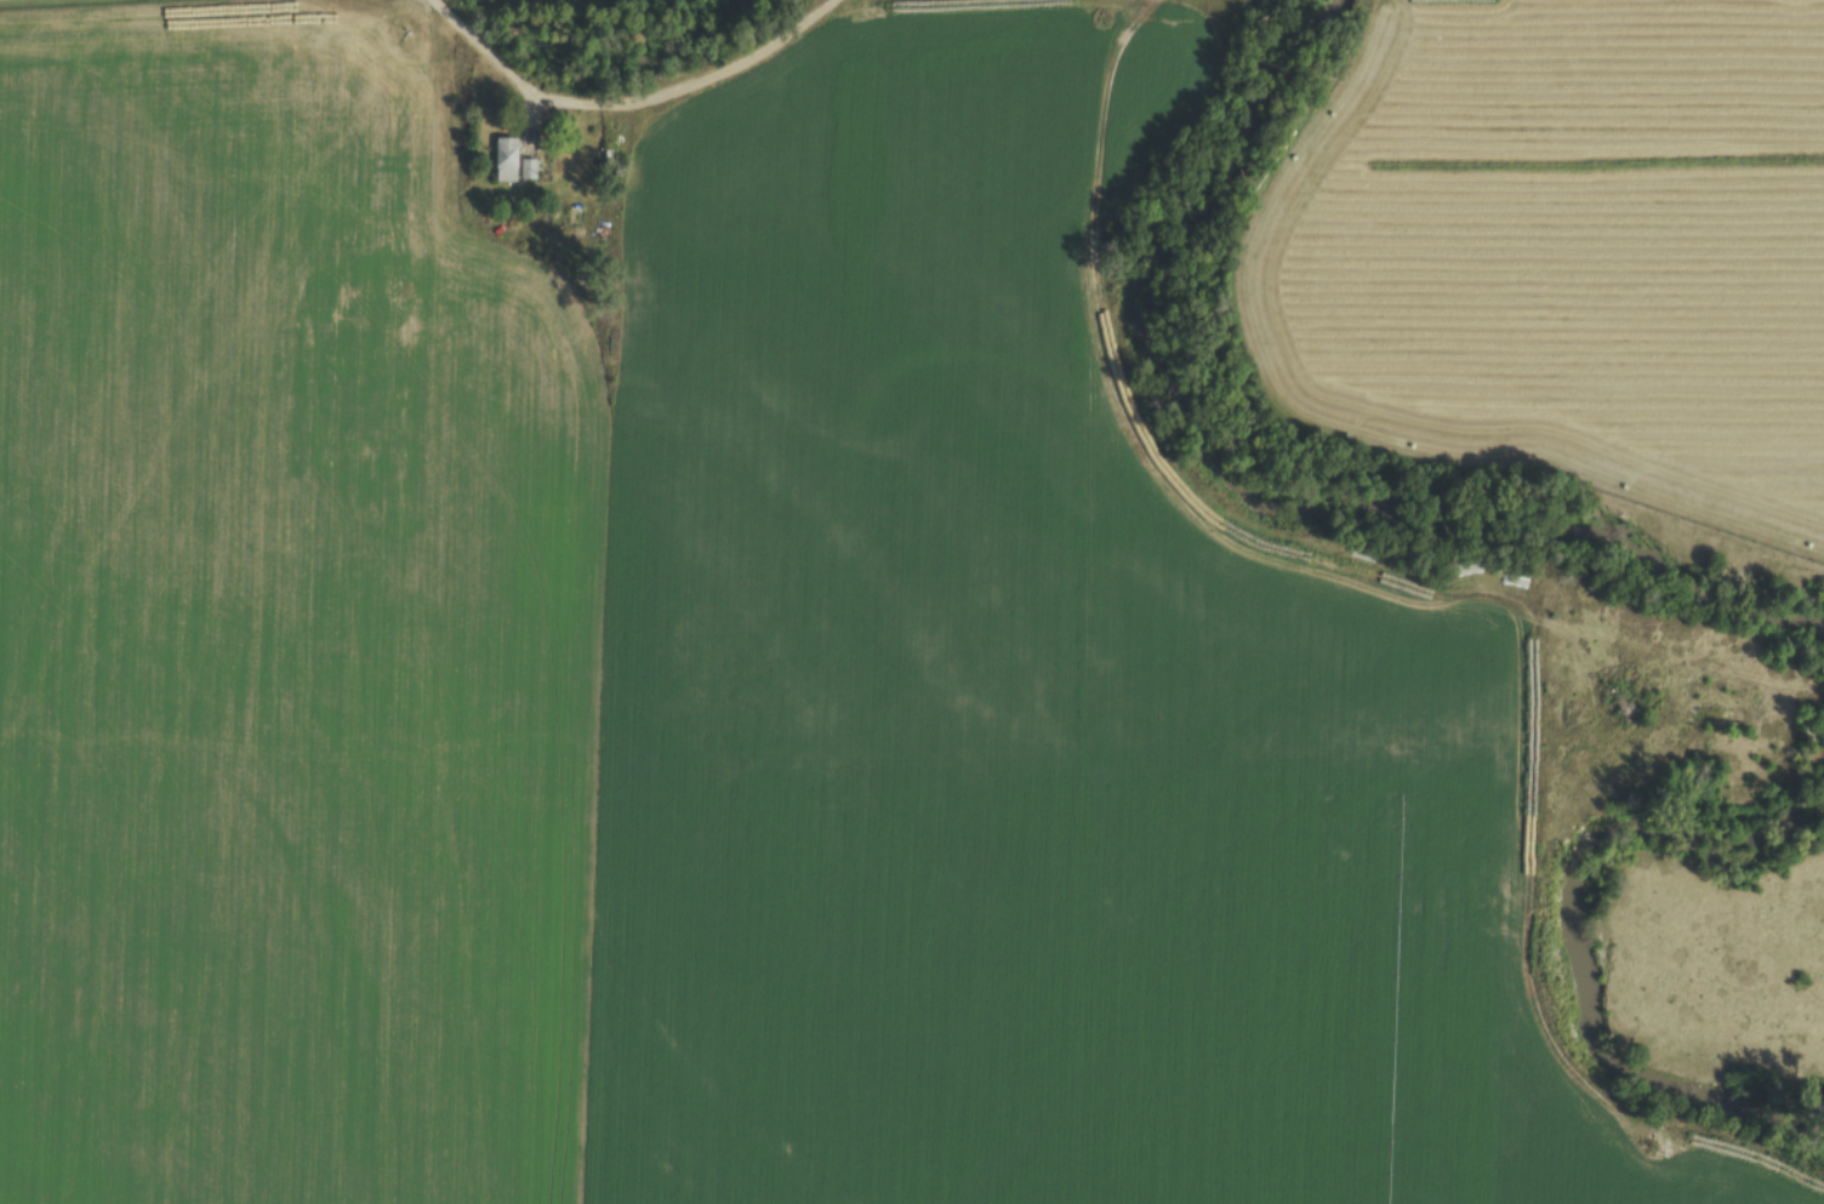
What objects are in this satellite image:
road: (632, 98)
building: (505, 161)
building: (526, 171)

